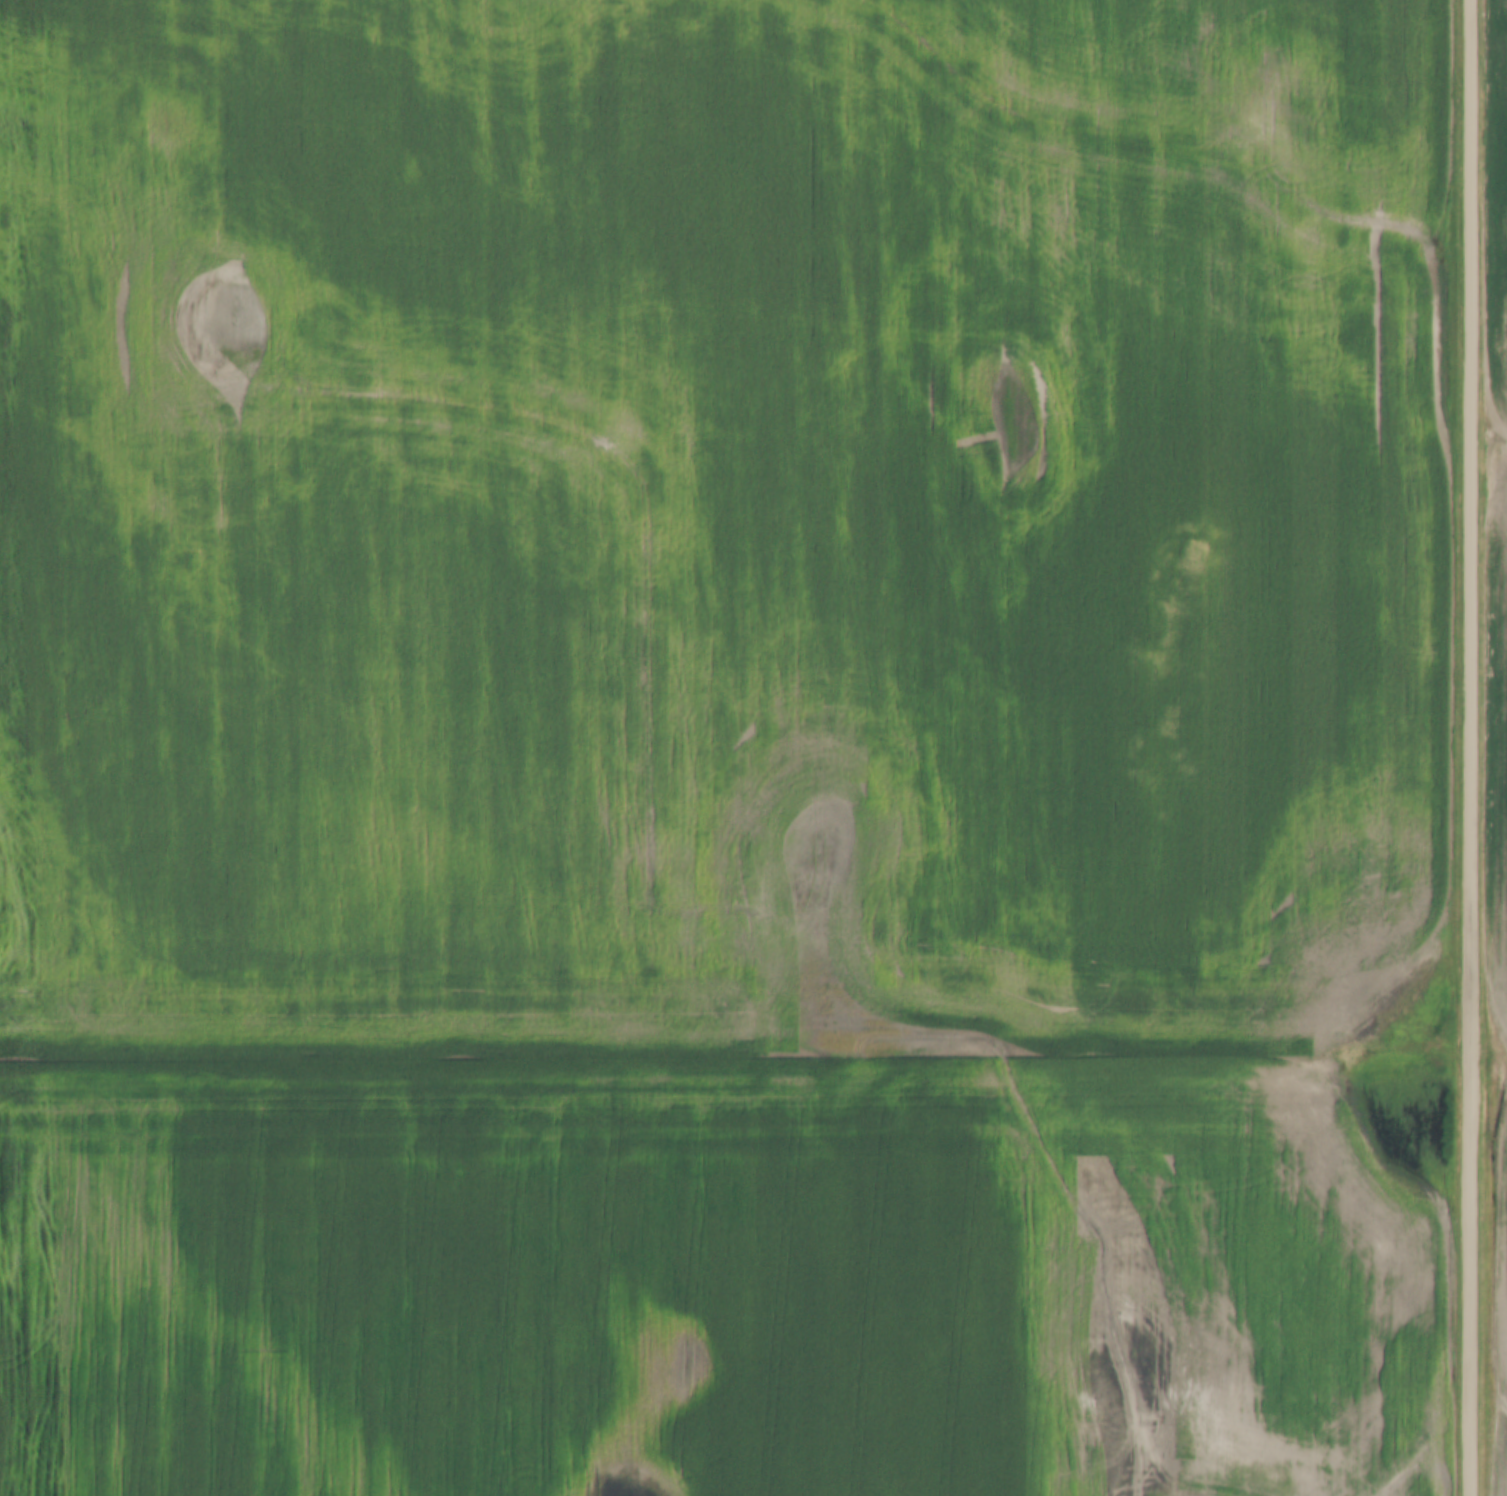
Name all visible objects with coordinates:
road: (1472, 748)

